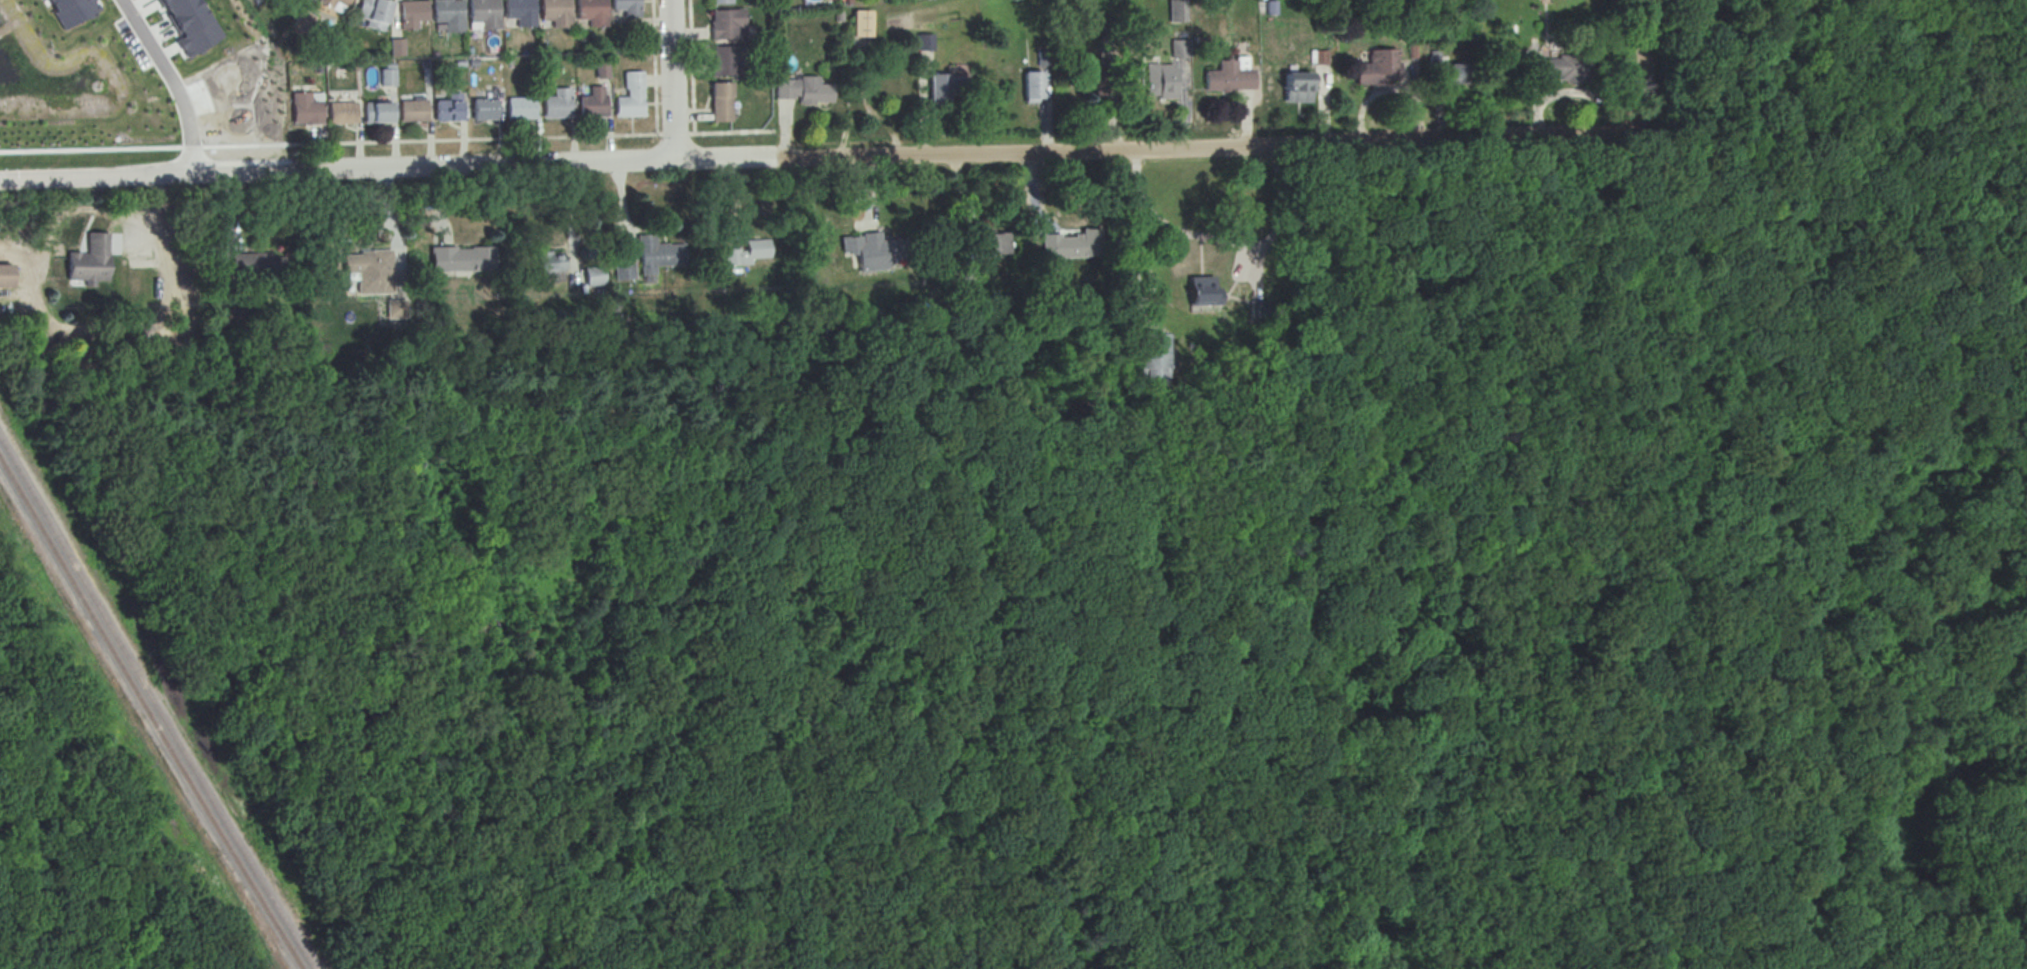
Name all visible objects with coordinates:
building: (720, 1)
building: (334, 5)
building: (628, 7)
building: (71, 10)
building: (593, 11)
building: (485, 12)
building: (521, 12)
building: (557, 12)
building: (375, 13)
building: (413, 13)
building: (449, 14)
building: (862, 22)
building: (190, 24)
building: (726, 24)
building: (924, 41)
building: (397, 46)
road: (1640, 48)
building: (1178, 50)
building: (1319, 57)
building: (727, 61)
road: (690, 67)
building: (1377, 67)
building: (601, 68)
building: (1563, 68)
building: (1448, 72)
building: (387, 76)
building: (1227, 77)
building: (1160, 79)
road: (672, 80)
road: (172, 82)
building: (1033, 85)
building: (1296, 86)
building: (940, 87)
building: (804, 89)
building: (629, 96)
building: (719, 102)
building: (556, 104)
building: (591, 106)
building: (304, 107)
building: (518, 107)
building: (483, 109)
building: (413, 110)
building: (447, 110)
building: (341, 112)
building: (377, 112)
road: (874, 113)
road: (1726, 118)
road: (529, 138)
road: (143, 147)
road: (1214, 147)
road: (1678, 155)
road: (1647, 159)
road: (383, 169)
parking lot: (1651, 174)
road: (442, 206)
road: (621, 206)
road: (228, 212)
road: (1663, 215)
road: (569, 225)
road: (393, 230)
road: (1224, 242)
building: (991, 243)
building: (1071, 245)
building: (872, 248)
building: (746, 252)
building: (656, 253)
building: (461, 260)
building: (90, 261)
building: (549, 262)
building: (261, 265)
building: (623, 266)
building: (368, 271)
building: (594, 275)
building: (5, 276)
building: (1203, 290)
building: (1152, 358)
road: (583, 534)
road: (1720, 563)
road: (1165, 578)
road: (531, 590)
building: (486, 632)
railway: (156, 704)
railway: (150, 714)
road: (1454, 797)

